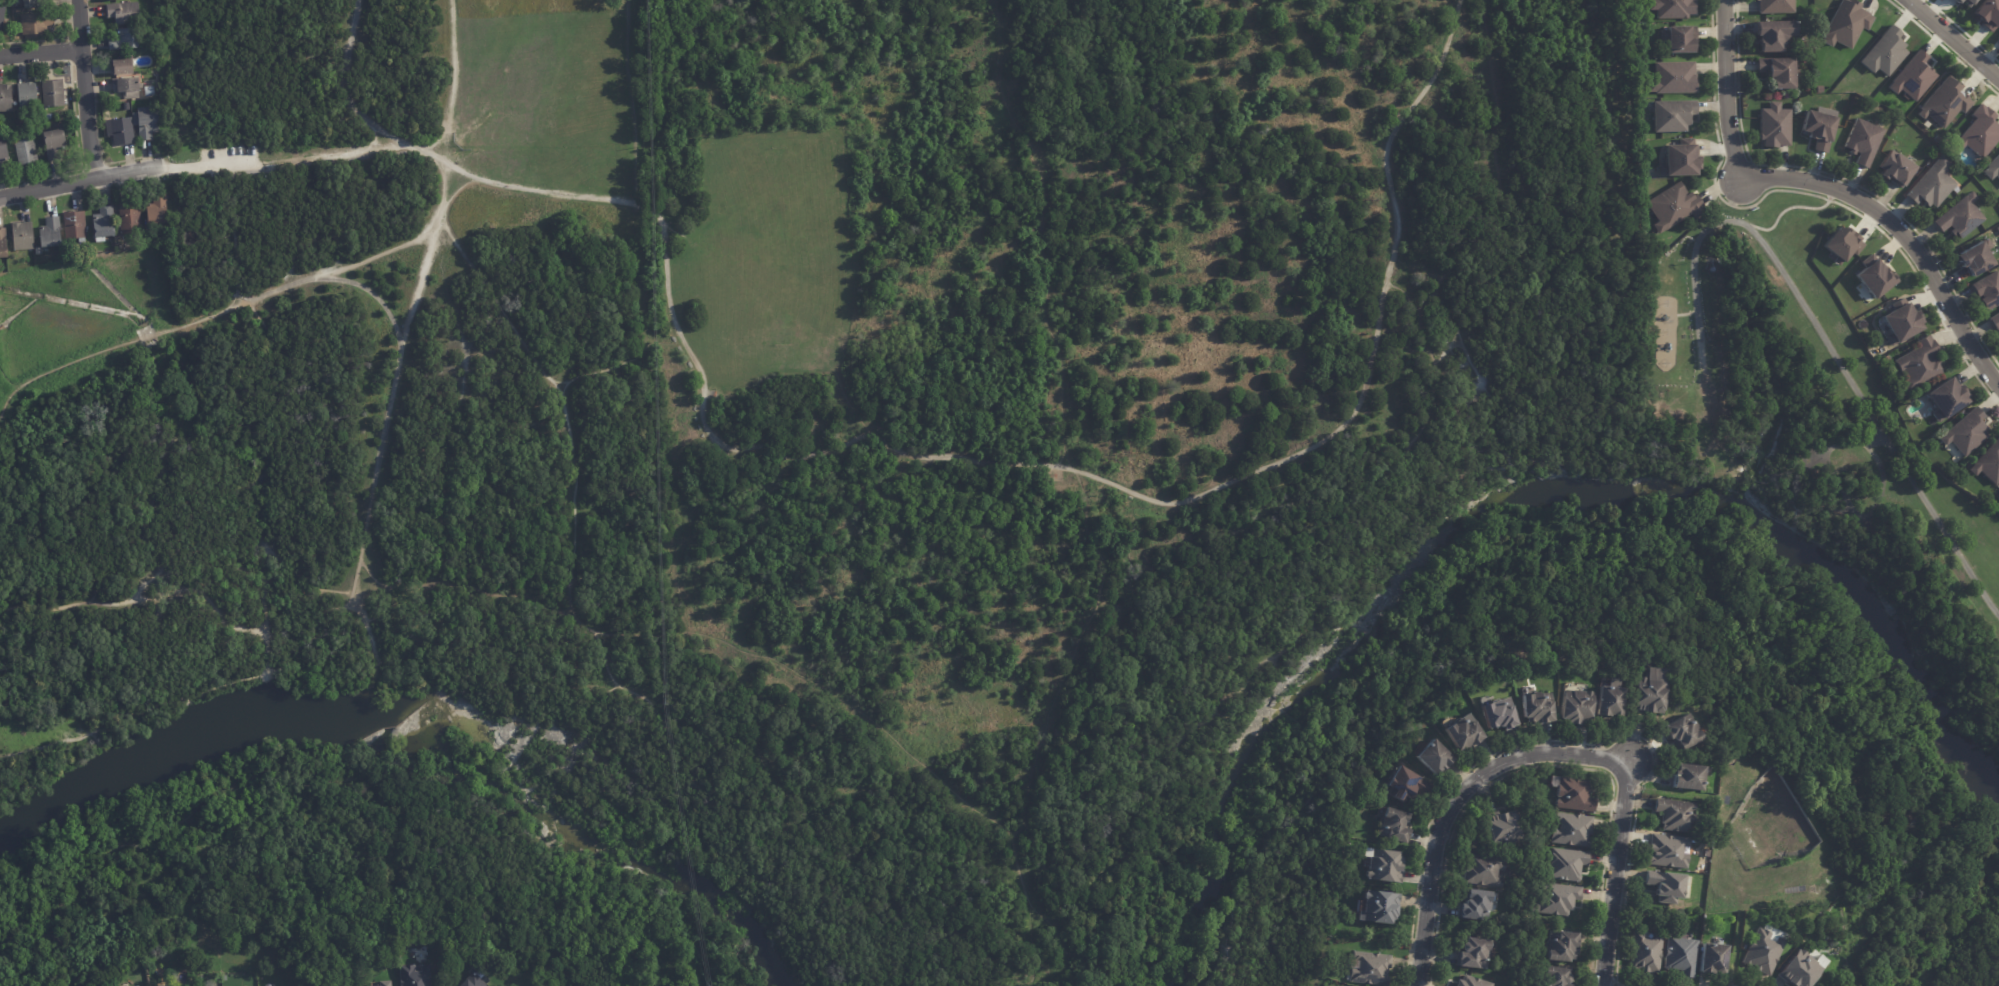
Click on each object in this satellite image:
building: (107, 0)
building: (1964, 2)
building: (37, 3)
building: (1775, 6)
building: (1672, 8)
building: (123, 12)
building: (2, 13)
building: (1987, 13)
building: (35, 22)
building: (1845, 23)
building: (1774, 34)
building: (1998, 37)
building: (124, 38)
building: (1677, 38)
road: (1950, 40)
road: (39, 53)
building: (1884, 53)
building: (122, 66)
building: (1778, 71)
building: (1672, 77)
building: (1913, 78)
park: (536, 79)
road: (445, 83)
road: (83, 87)
building: (126, 87)
building: (1818, 89)
road: (1725, 91)
building: (52, 93)
building: (26, 94)
building: (5, 98)
road: (631, 101)
building: (1943, 103)
building: (114, 115)
building: (1671, 115)
building: (48, 116)
building: (146, 122)
building: (1774, 125)
building: (1817, 129)
building: (120, 131)
building: (1979, 132)
building: (1863, 141)
building: (55, 144)
building: (26, 151)
building: (3, 154)
road: (321, 158)
building: (1680, 159)
road: (212, 164)
building: (1992, 168)
building: (1895, 170)
road: (82, 177)
building: (1932, 184)
road: (462, 186)
building: (1672, 207)
building: (157, 210)
road: (1785, 215)
building: (1959, 217)
building: (128, 218)
building: (104, 222)
road: (1733, 222)
building: (74, 224)
building: (1998, 229)
building: (50, 232)
building: (22, 236)
road: (1902, 238)
building: (3, 243)
building: (1842, 245)
building: (118, 247)
park: (775, 249)
building: (1975, 258)
building: (1874, 278)
building: (1987, 291)
road: (668, 293)
road: (371, 298)
road: (1682, 314)
park: (77, 316)
road: (205, 317)
building: (1994, 320)
building: (1900, 322)
road: (1461, 338)
road: (1443, 350)
road: (1372, 352)
road: (618, 364)
building: (1918, 364)
road: (7, 383)
road: (556, 395)
building: (1945, 398)
road: (855, 407)
park: (847, 409)
road: (1385, 422)
building: (1964, 432)
road: (1873, 439)
road: (1804, 455)
building: (1988, 463)
road: (253, 465)
road: (1074, 466)
park: (1824, 473)
road: (1392, 481)
building: (1998, 493)
building: (1998, 498)
road: (1848, 511)
road: (1618, 561)
road: (359, 568)
road: (308, 576)
road: (780, 666)
building: (1526, 671)
building: (1648, 694)
building: (1609, 697)
building: (1575, 705)
building: (1536, 707)
building: (1495, 712)
building: (1461, 731)
building: (1680, 731)
building: (1431, 755)
building: (1687, 776)
building: (1401, 783)
building: (1572, 794)
road: (1455, 801)
road: (712, 804)
building: (1672, 814)
building: (1392, 824)
building: (1497, 826)
building: (1570, 829)
building: (1667, 851)
building: (1565, 863)
building: (1383, 866)
building: (1482, 869)
road: (1616, 872)
building: (1665, 885)
building: (1555, 898)
building: (1475, 904)
building: (1374, 906)
road: (1048, 925)
road: (1736, 944)
road: (1080, 946)
building: (1561, 946)
building: (1764, 949)
building: (1644, 951)
building: (1474, 953)
building: (1680, 956)
building: (1712, 959)
building: (1368, 968)
building: (1801, 969)
building: (416, 976)
building: (1552, 976)
road: (525, 980)
road: (533, 980)
building: (475, 981)
building: (1471, 982)
building: (254, 983)
building: (386, 983)
building: (172, 985)

